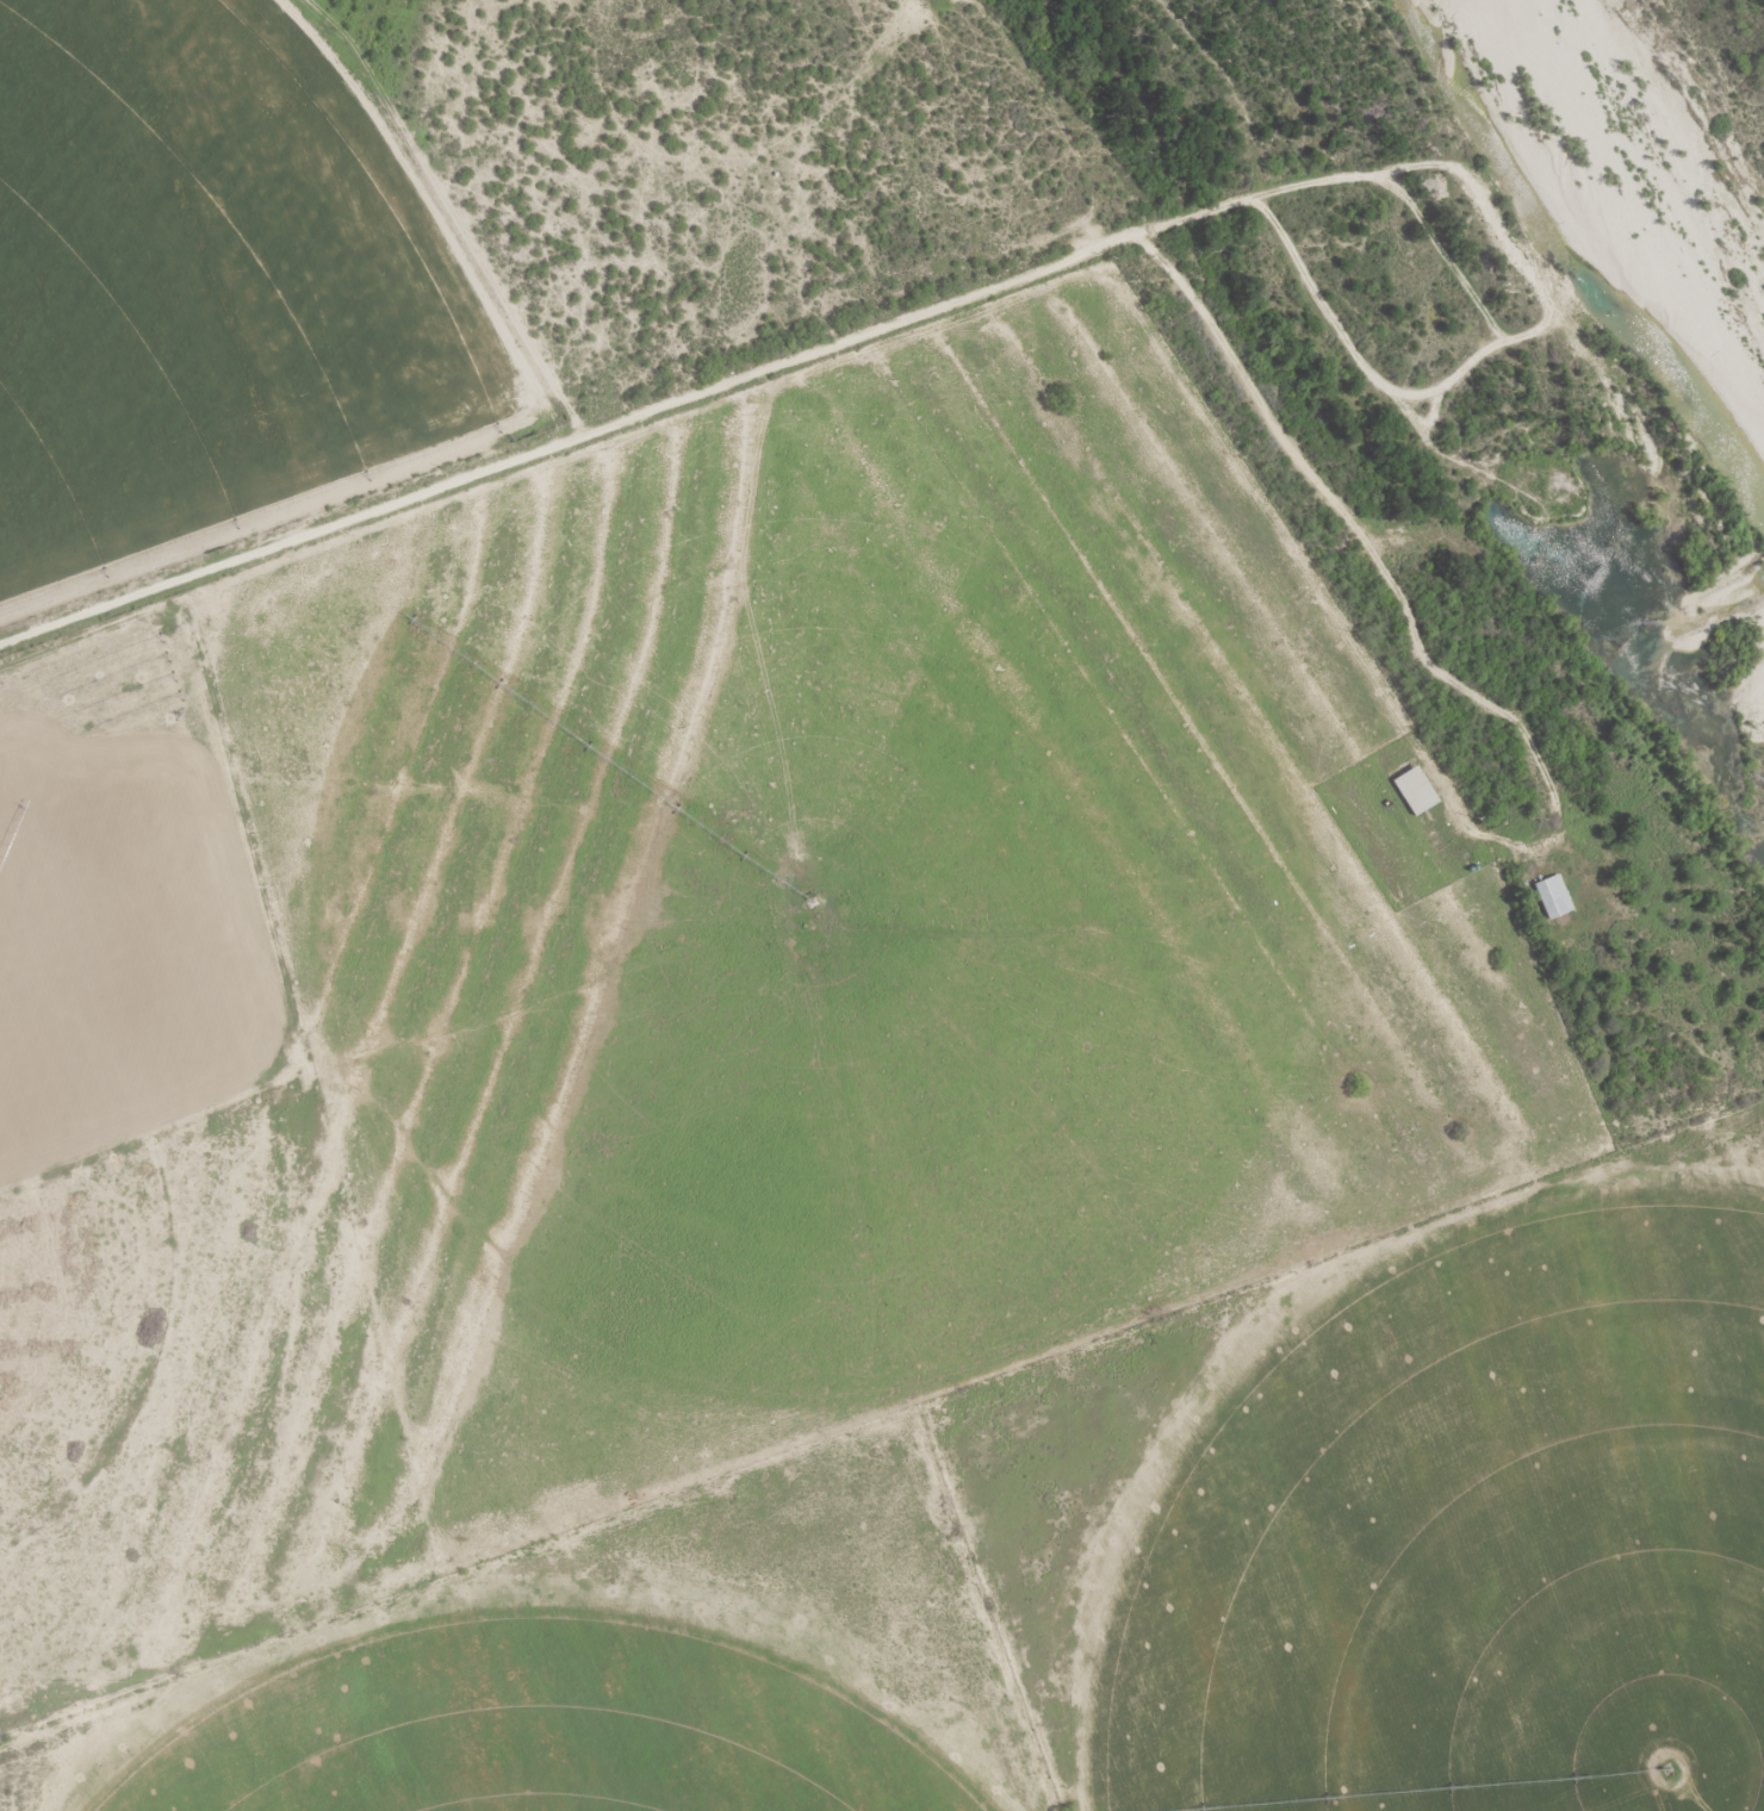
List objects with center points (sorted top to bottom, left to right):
river: (1619, 213)
road: (629, 413)
building: (1410, 789)
building: (1549, 896)

